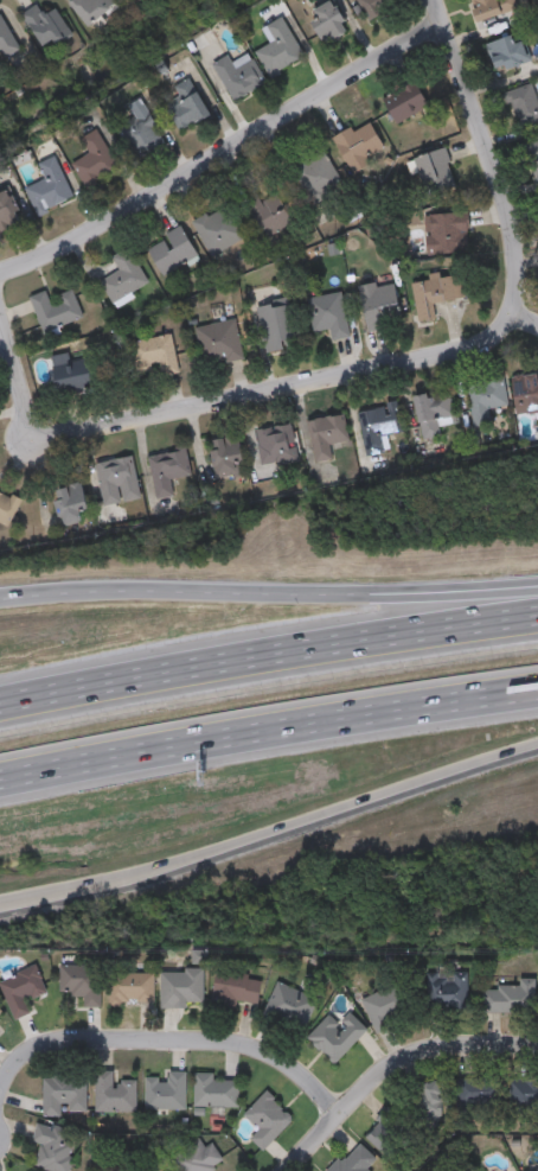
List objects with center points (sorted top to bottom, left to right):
building: (377, 7)
building: (493, 8)
building: (94, 9)
building: (328, 24)
building: (47, 27)
building: (6, 43)
building: (280, 49)
building: (508, 55)
building: (239, 78)
building: (406, 104)
building: (187, 107)
building: (525, 108)
building: (141, 135)
building: (360, 148)
road: (224, 157)
building: (533, 159)
building: (95, 160)
building: (435, 173)
building: (319, 178)
building: (50, 189)
building: (8, 212)
building: (267, 216)
building: (220, 231)
building: (447, 234)
building: (173, 254)
building: (124, 279)
building: (474, 292)
building: (436, 293)
building: (380, 306)
building: (56, 312)
building: (329, 317)
road: (525, 320)
building: (280, 327)
building: (220, 344)
building: (156, 355)
road: (442, 359)
road: (15, 381)
building: (76, 382)
building: (526, 395)
building: (486, 401)
building: (435, 414)
building: (378, 428)
building: (327, 438)
building: (276, 447)
building: (228, 459)
building: (168, 472)
building: (119, 482)
building: (71, 507)
building: (7, 510)
road: (268, 596)
road: (268, 654)
road: (268, 730)
road: (271, 835)
building: (81, 984)
building: (129, 988)
building: (236, 988)
building: (179, 989)
building: (21, 992)
building: (446, 994)
building: (508, 999)
building: (389, 1006)
building: (288, 1007)
building: (0, 1012)
building: (335, 1036)
road: (169, 1040)
road: (390, 1064)
building: (212, 1090)
building: (476, 1090)
building: (164, 1092)
building: (62, 1093)
building: (113, 1093)
building: (524, 1094)
building: (429, 1102)
building: (265, 1120)
building: (386, 1133)
building: (52, 1147)
building: (194, 1157)
building: (350, 1162)
building: (161, 1170)
building: (165, 1170)
building: (536, 1170)

